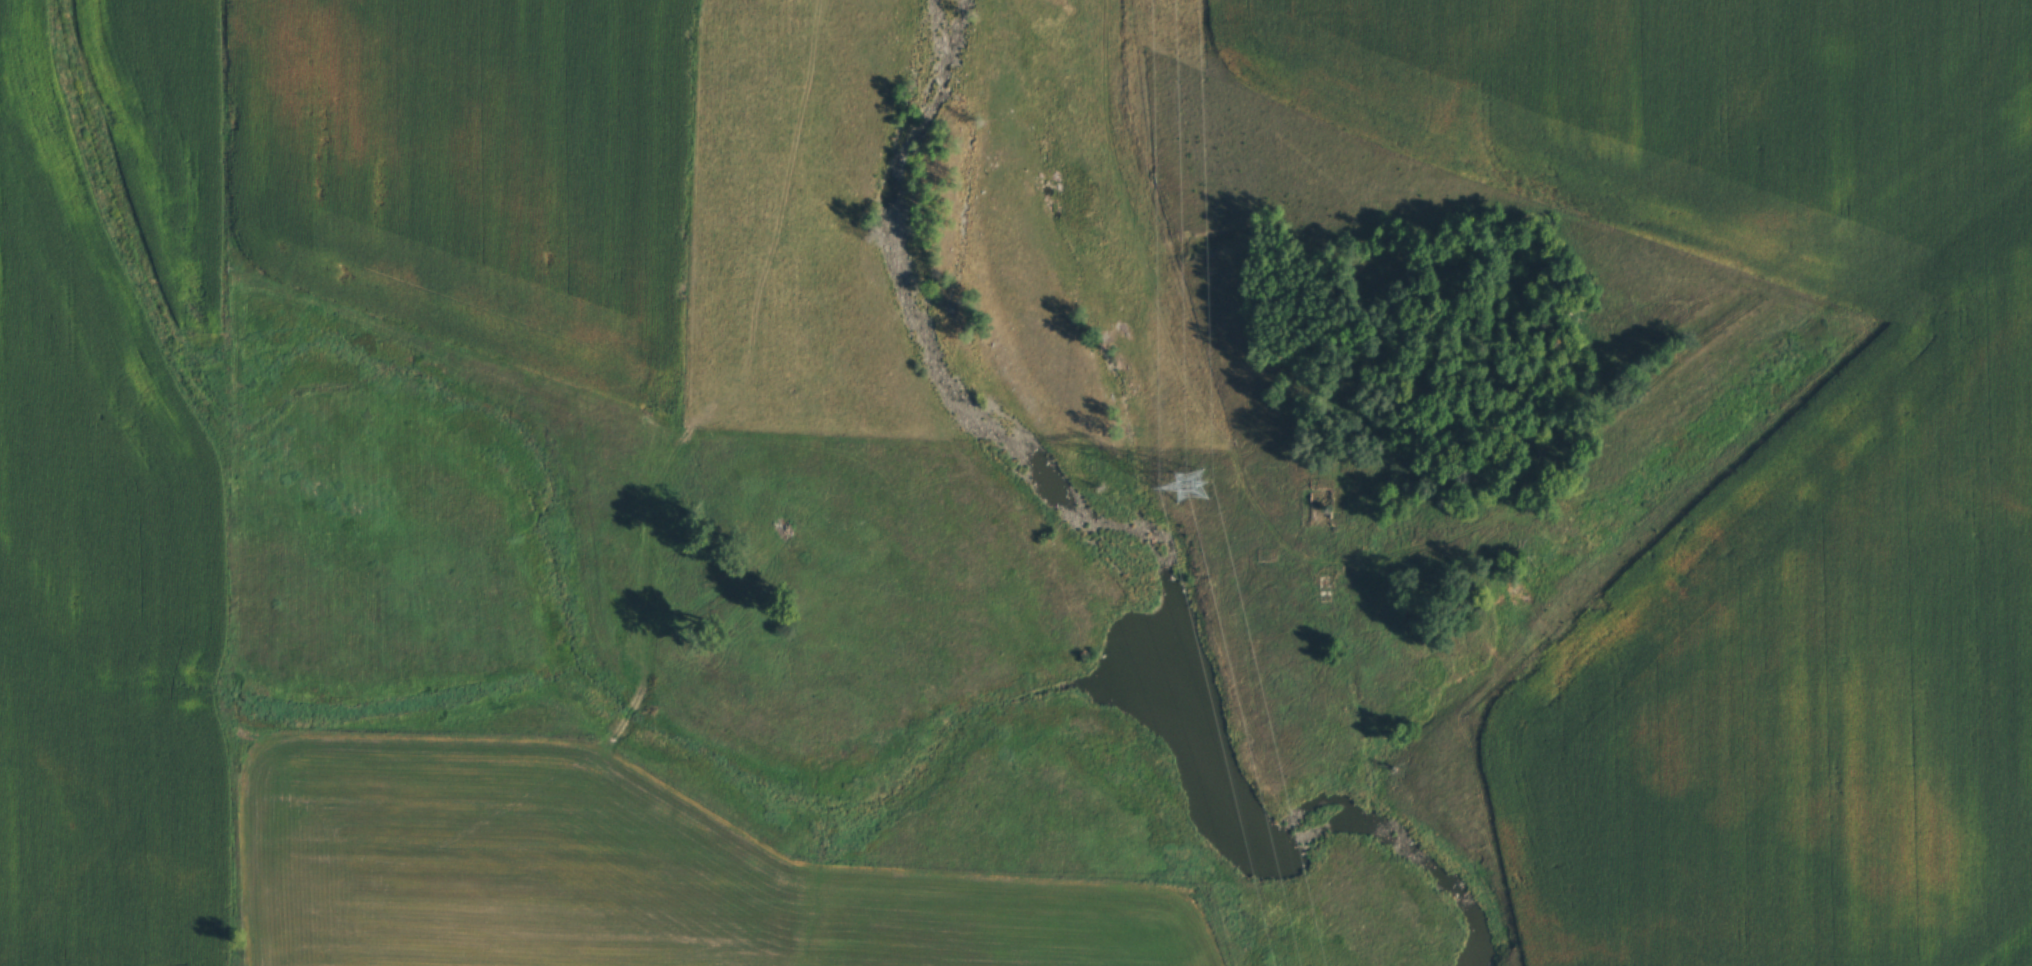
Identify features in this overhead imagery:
crop: (479, 169)
power tower: (1185, 488)
crop: (98, 575)
crop: (624, 875)

